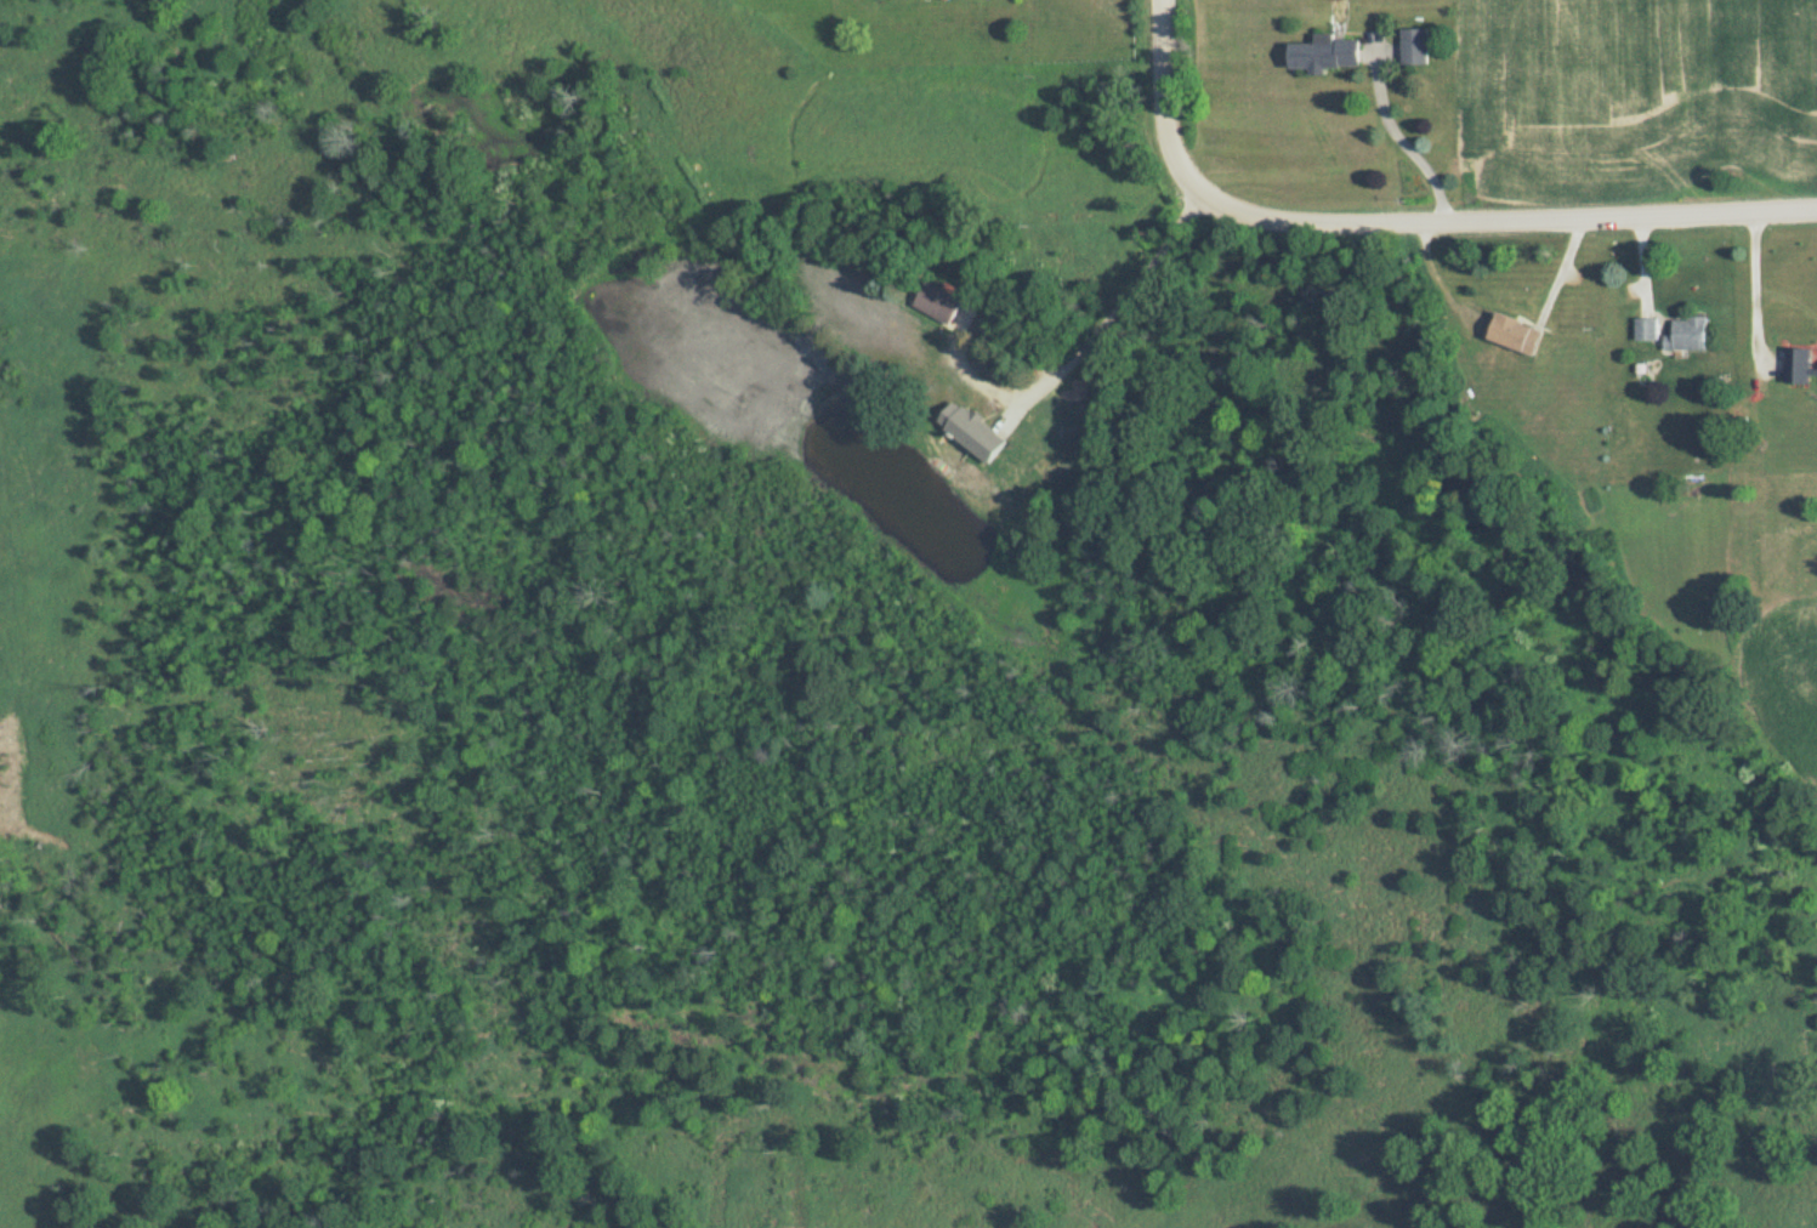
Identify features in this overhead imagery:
building: (1414, 45)
building: (1325, 52)
road: (1406, 149)
road: (1395, 240)
building: (937, 301)
road: (1753, 308)
road: (1108, 315)
building: (1646, 328)
building: (1686, 332)
building: (1515, 334)
building: (1799, 365)
building: (989, 420)

